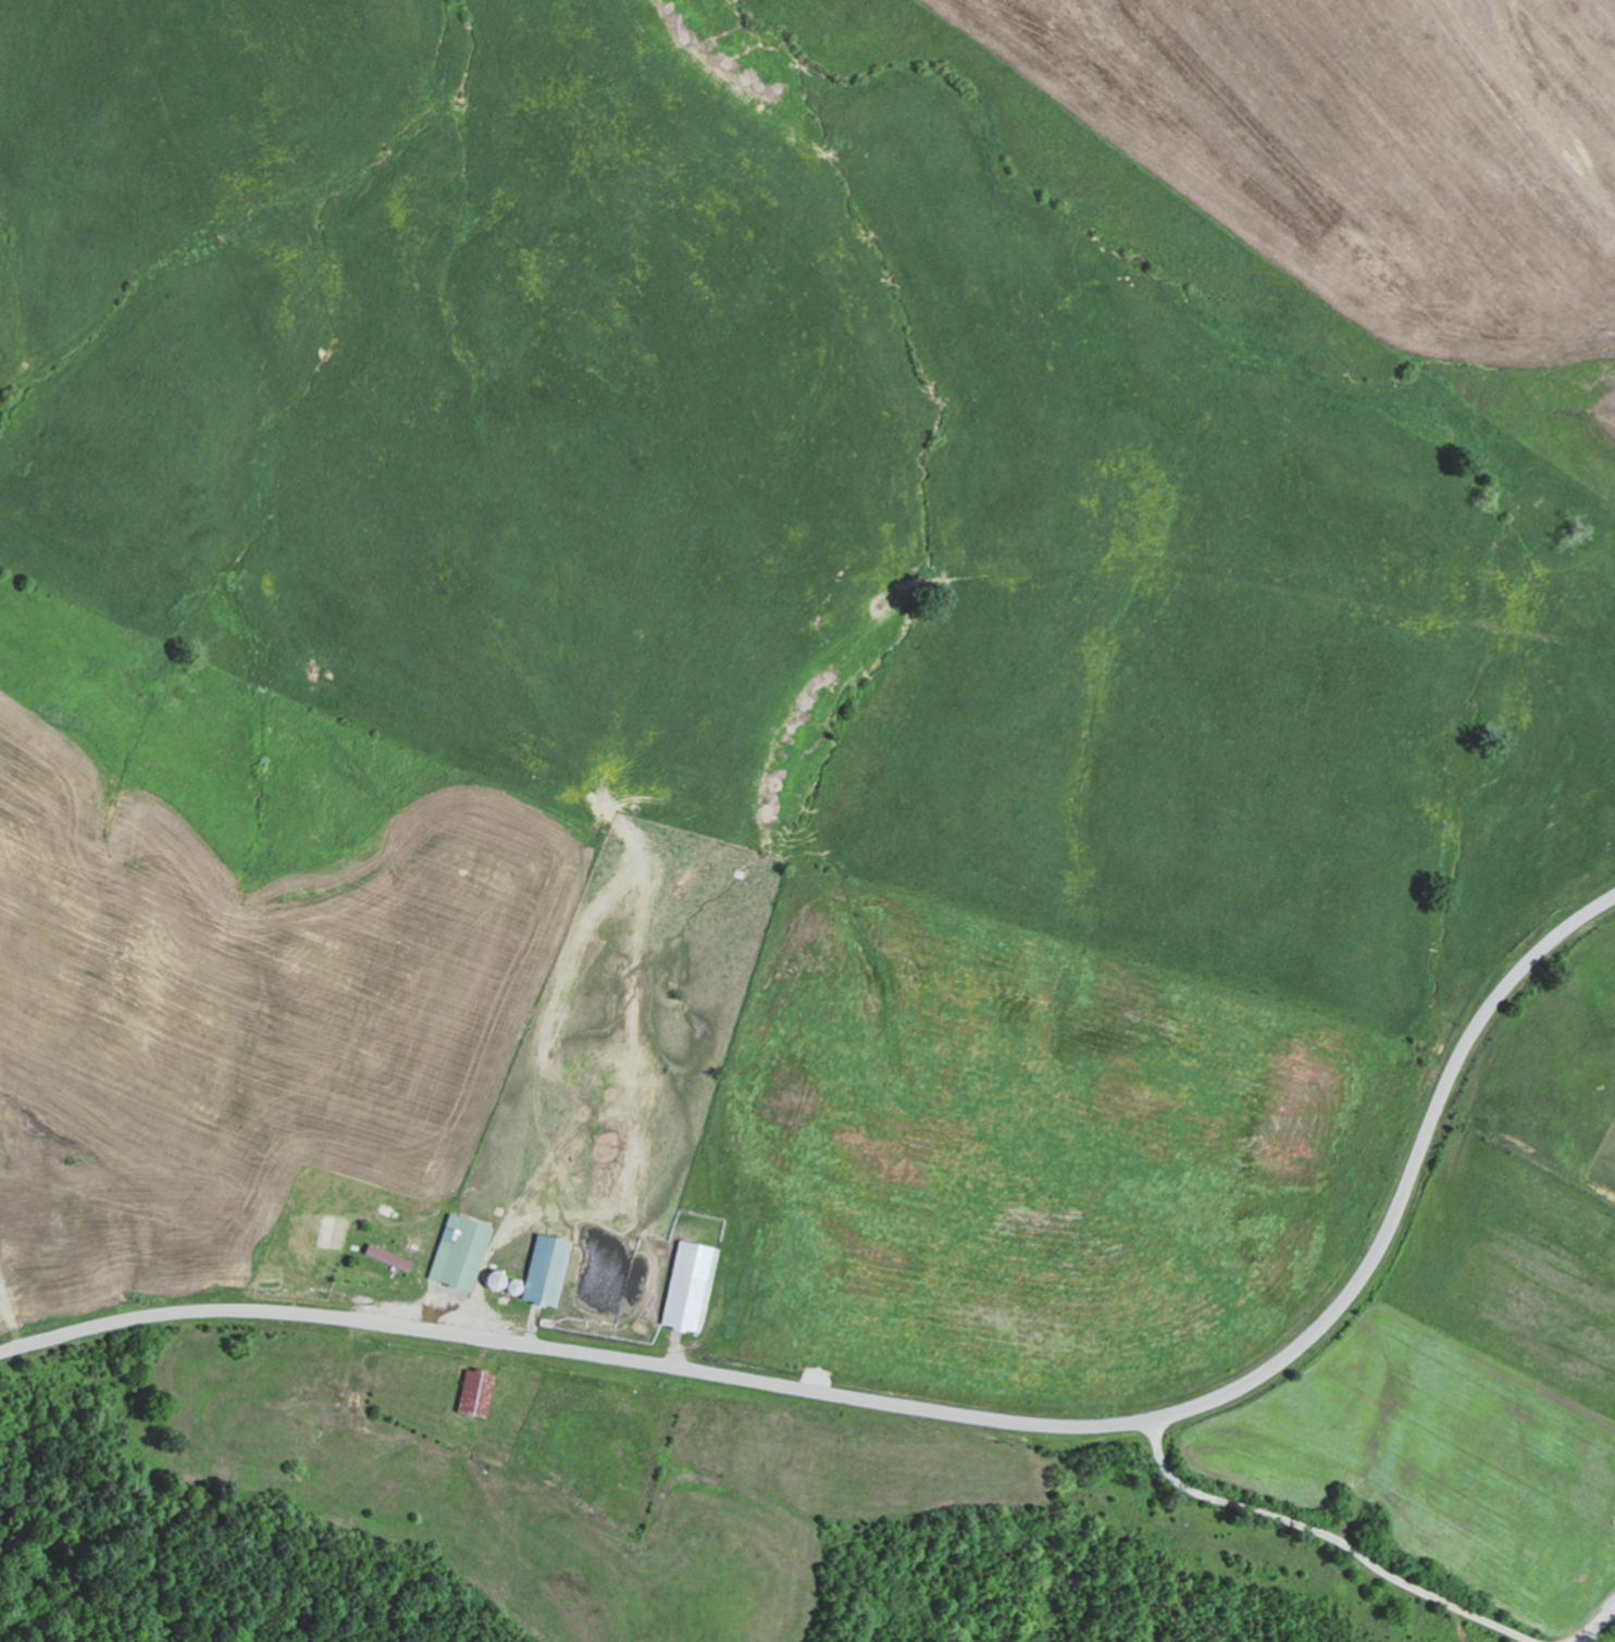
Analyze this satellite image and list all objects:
road: (84, 1232)
building: (459, 1254)
building: (385, 1257)
building: (545, 1271)
building: (688, 1286)
building: (474, 1393)
road: (934, 1411)
road: (1371, 1553)

